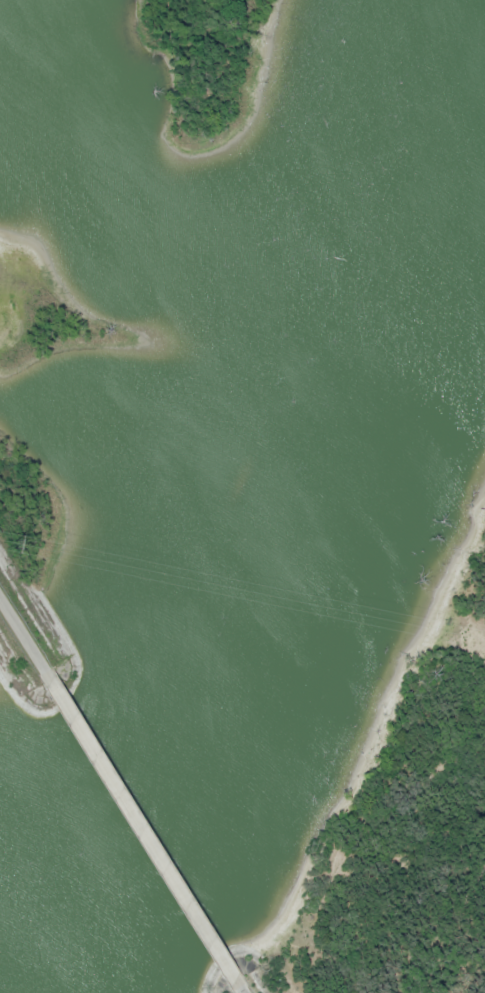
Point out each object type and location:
river: (302, 522)
power tower: (7, 544)
road: (21, 638)
road: (136, 830)
road: (232, 987)

